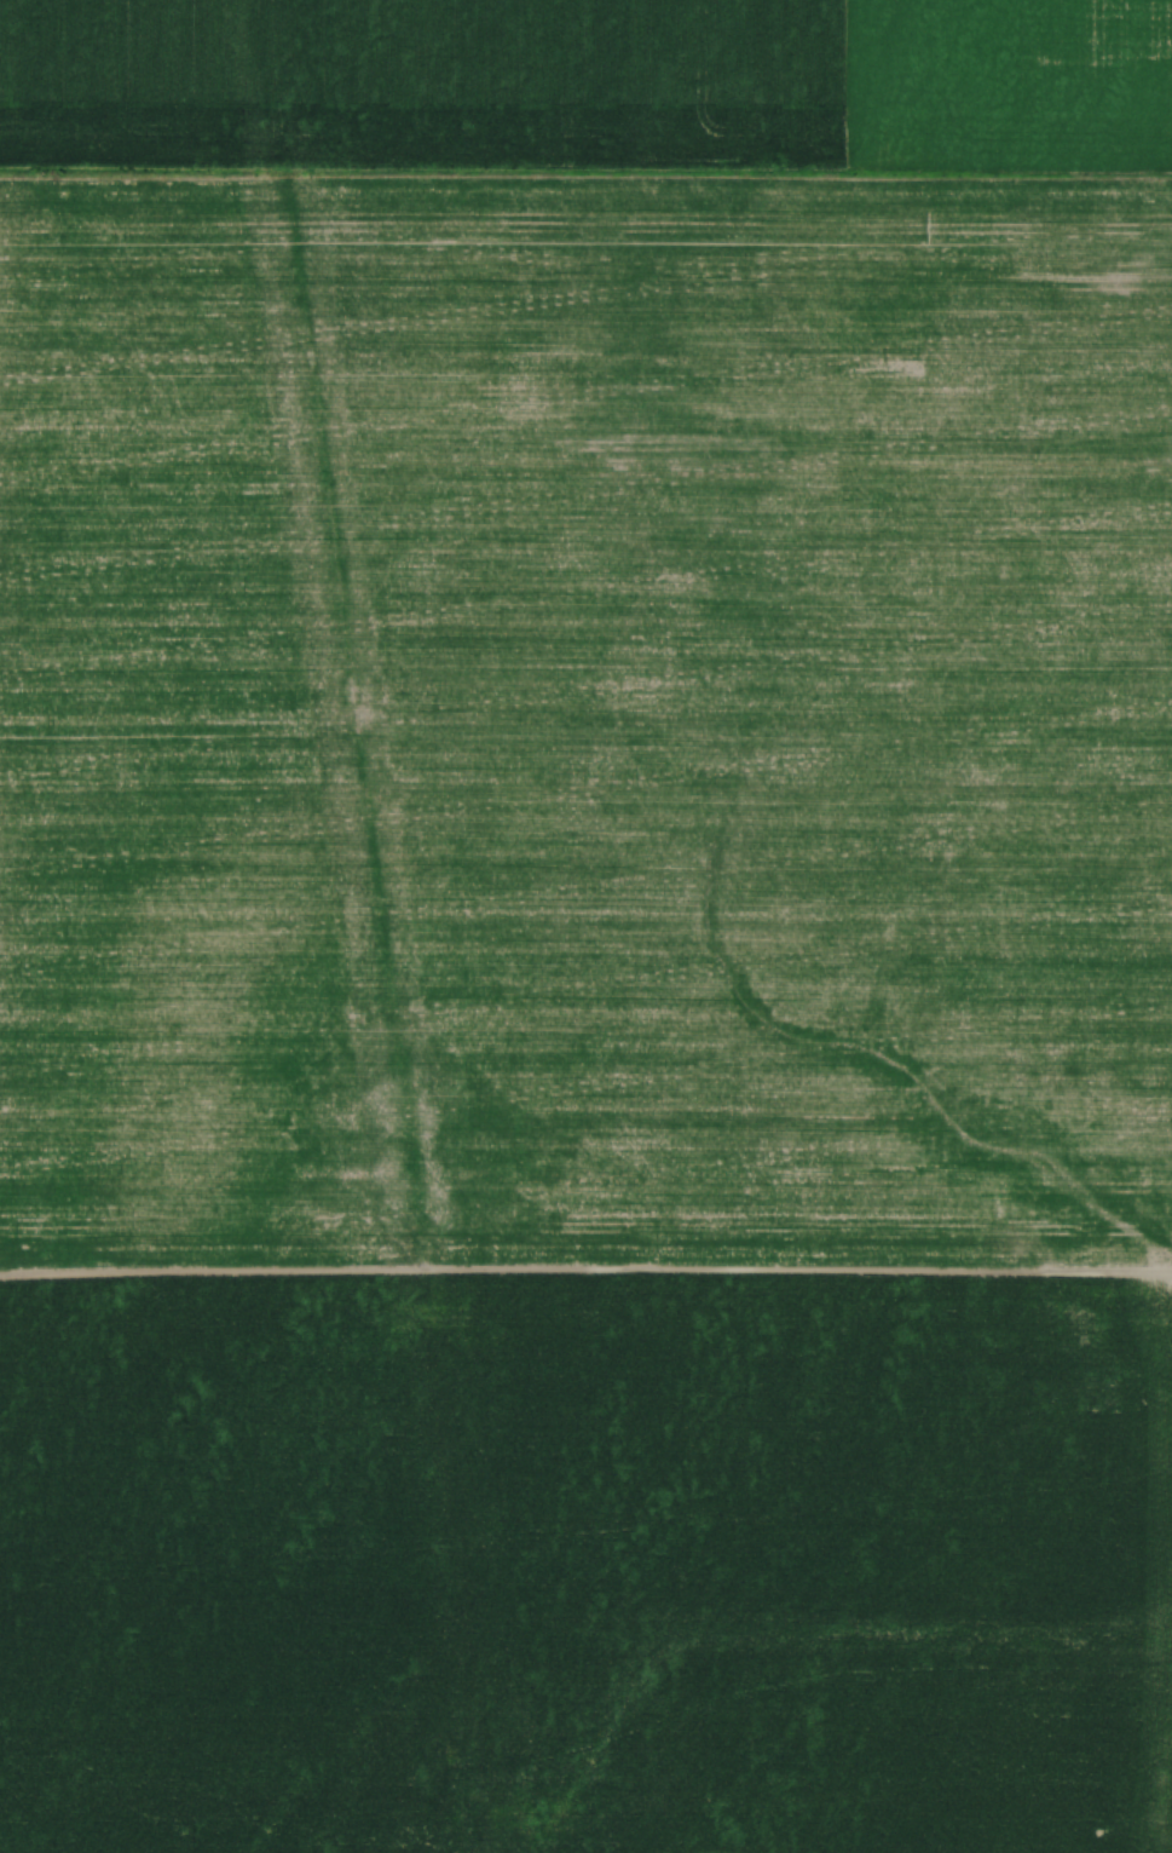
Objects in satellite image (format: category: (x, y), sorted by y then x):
crop: (587, 1567)

